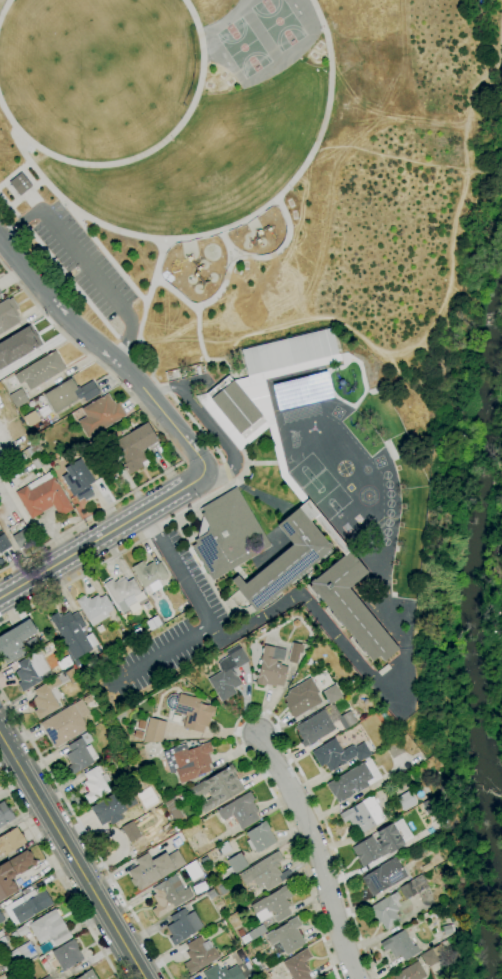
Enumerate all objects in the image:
road: (4, 7)
park: (278, 23)
park: (243, 49)
road: (147, 152)
park: (258, 171)
road: (14, 172)
building: (20, 184)
road: (268, 206)
road: (16, 222)
road: (78, 224)
road: (272, 256)
road: (97, 279)
road: (223, 285)
road: (150, 290)
road: (175, 292)
building: (0, 293)
building: (7, 314)
road: (199, 340)
building: (18, 346)
road: (106, 352)
road: (154, 361)
building: (40, 370)
building: (2, 380)
road: (163, 387)
building: (69, 394)
building: (18, 398)
building: (100, 415)
building: (31, 418)
road: (207, 425)
road: (196, 427)
road: (165, 438)
building: (136, 447)
building: (25, 453)
building: (38, 463)
road: (225, 471)
park: (311, 478)
building: (78, 480)
building: (293, 489)
building: (43, 496)
park: (331, 503)
building: (226, 534)
road: (104, 536)
building: (22, 539)
building: (3, 540)
road: (115, 553)
building: (149, 574)
building: (122, 593)
building: (94, 608)
road: (261, 616)
building: (152, 623)
building: (296, 623)
river: (477, 632)
building: (72, 634)
building: (136, 635)
building: (125, 639)
building: (15, 641)
building: (295, 653)
road: (163, 655)
building: (101, 656)
building: (64, 662)
building: (77, 662)
building: (271, 667)
building: (31, 670)
building: (228, 673)
building: (71, 675)
building: (332, 694)
building: (87, 698)
building: (301, 698)
building: (45, 699)
building: (194, 712)
road: (255, 712)
building: (175, 718)
building: (346, 720)
building: (64, 725)
building: (111, 728)
building: (314, 728)
building: (153, 730)
building: (394, 749)
building: (80, 754)
building: (337, 754)
building: (188, 760)
building: (354, 780)
building: (94, 784)
building: (216, 789)
building: (406, 800)
building: (431, 806)
building: (113, 807)
building: (173, 810)
building: (240, 810)
building: (5, 814)
building: (363, 815)
building: (128, 829)
road: (84, 836)
building: (259, 837)
building: (11, 841)
building: (378, 845)
building: (195, 846)
building: (224, 848)
road: (73, 855)
road: (317, 855)
building: (233, 865)
building: (153, 868)
building: (193, 870)
building: (13, 871)
building: (265, 872)
building: (383, 876)
road: (58, 879)
building: (413, 887)
building: (211, 893)
building: (169, 895)
building: (275, 904)
building: (30, 905)
building: (448, 908)
building: (387, 911)
building: (1, 918)
building: (182, 926)
building: (50, 928)
building: (447, 929)
building: (21, 930)
building: (251, 934)
building: (14, 935)
building: (286, 936)
building: (3, 941)
building: (400, 946)
building: (44, 948)
building: (23, 954)
building: (199, 954)
building: (433, 954)
building: (67, 955)
building: (255, 962)
building: (298, 965)
building: (6, 967)
building: (410, 972)
building: (222, 973)
building: (88, 975)
building: (14, 977)
building: (46, 977)

